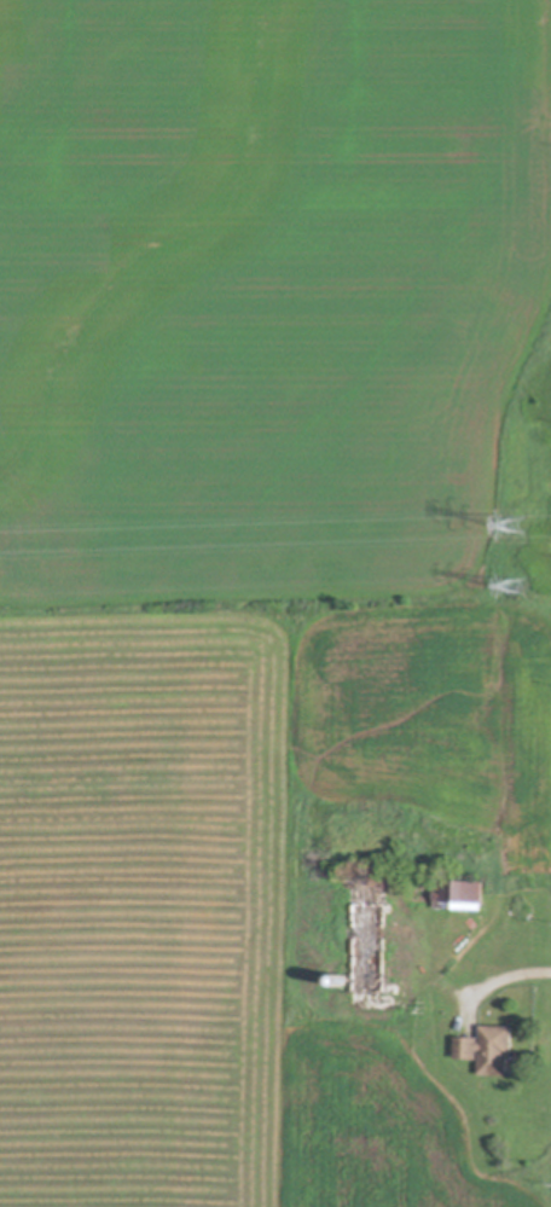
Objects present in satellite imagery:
power tower: (516, 524)
power tower: (516, 586)
building: (372, 946)
road: (500, 975)
building: (343, 979)
building: (491, 1050)

